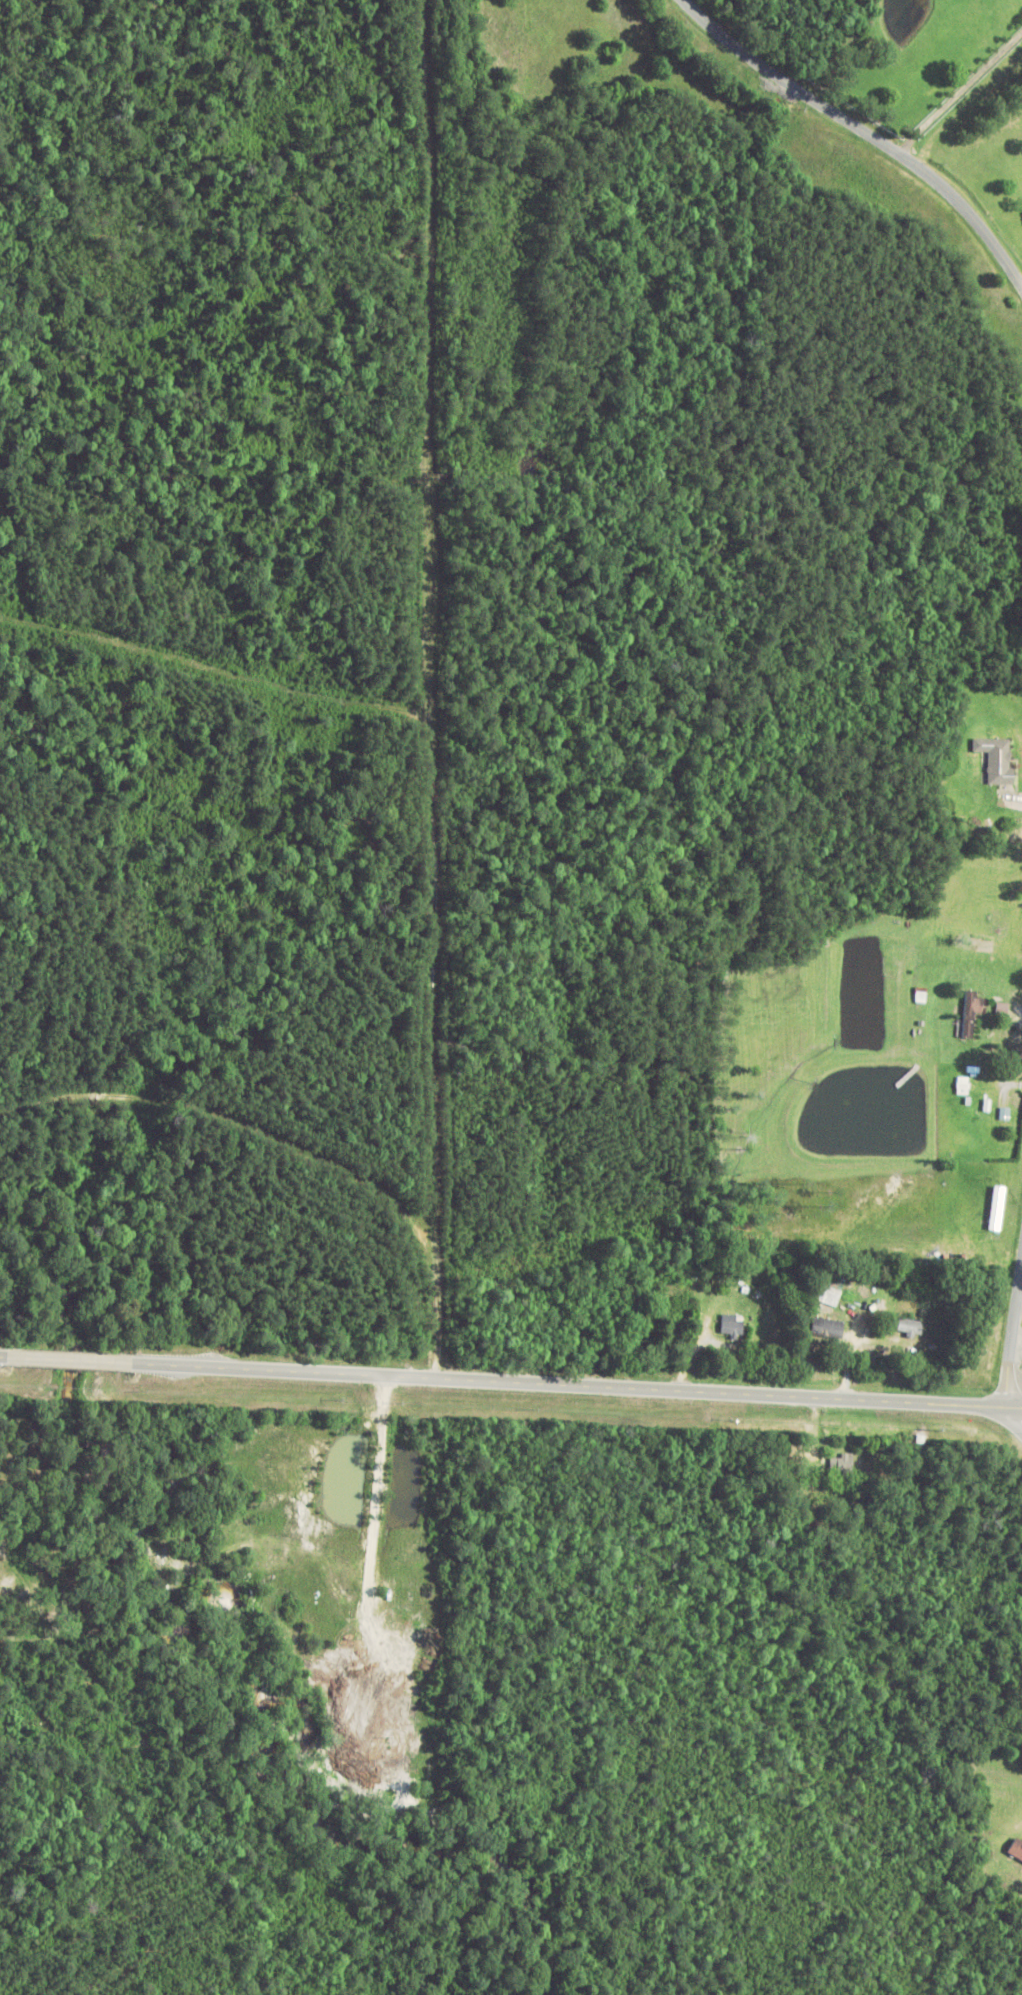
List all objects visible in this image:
building: (467, 56)
road: (865, 132)
building: (996, 759)
building: (972, 1013)
building: (997, 1209)
building: (832, 1285)
building: (731, 1325)
building: (826, 1328)
building: (910, 1328)
road: (3, 1356)
road: (1017, 1356)
road: (69, 1360)
road: (576, 1385)
road: (1017, 1415)
building: (841, 1466)
building: (150, 1547)
river: (246, 1642)
building: (372, 1798)
building: (1017, 1848)

